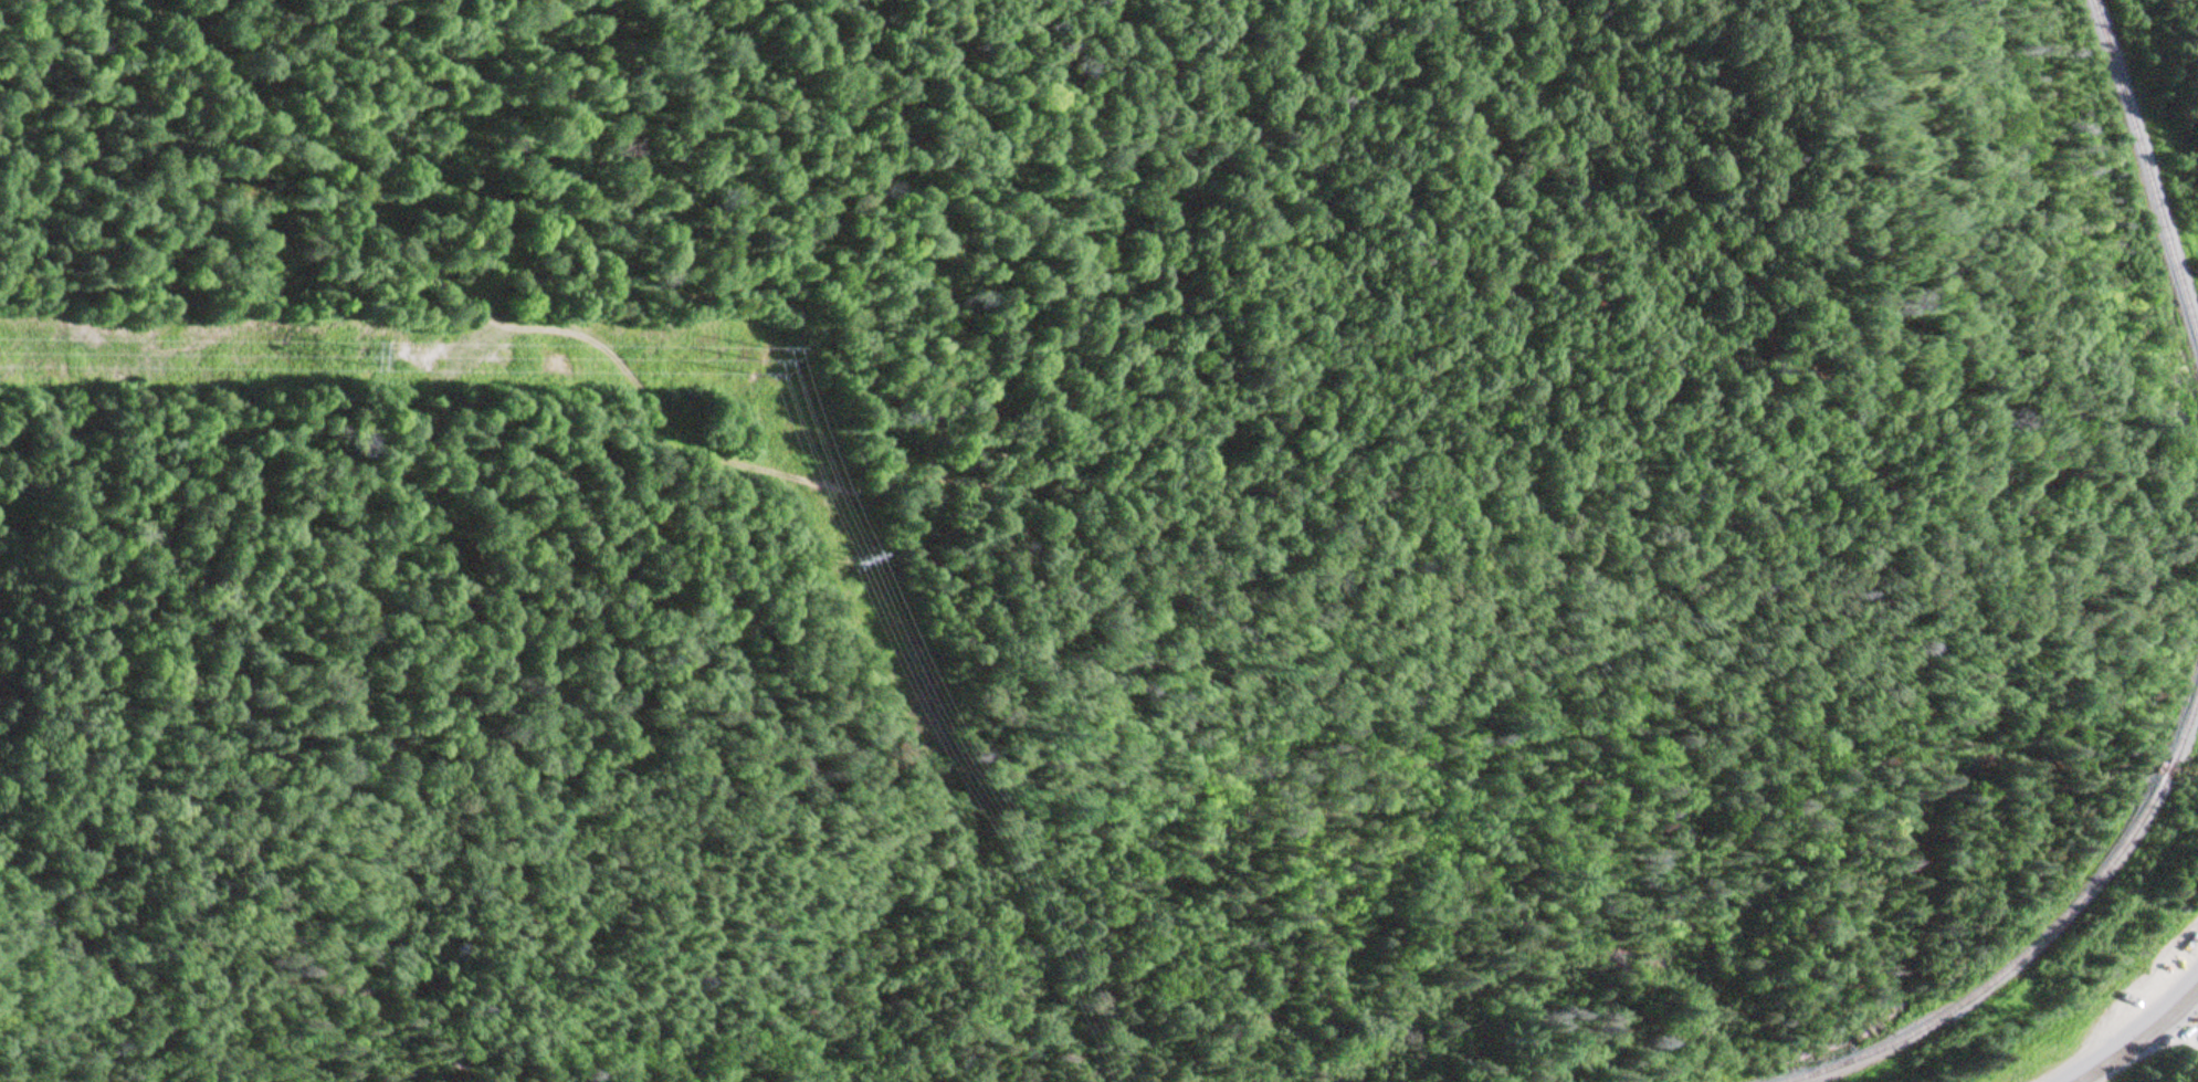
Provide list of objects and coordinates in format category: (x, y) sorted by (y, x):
railway: (2146, 166)
power tower: (362, 359)
power tower: (761, 366)
power tower: (851, 557)
railway: (2187, 728)
railway: (2171, 768)
railway: (2010, 970)
parking lot: (2165, 1002)
river: (1844, 1037)
road: (2138, 1037)
park: (2169, 1058)

